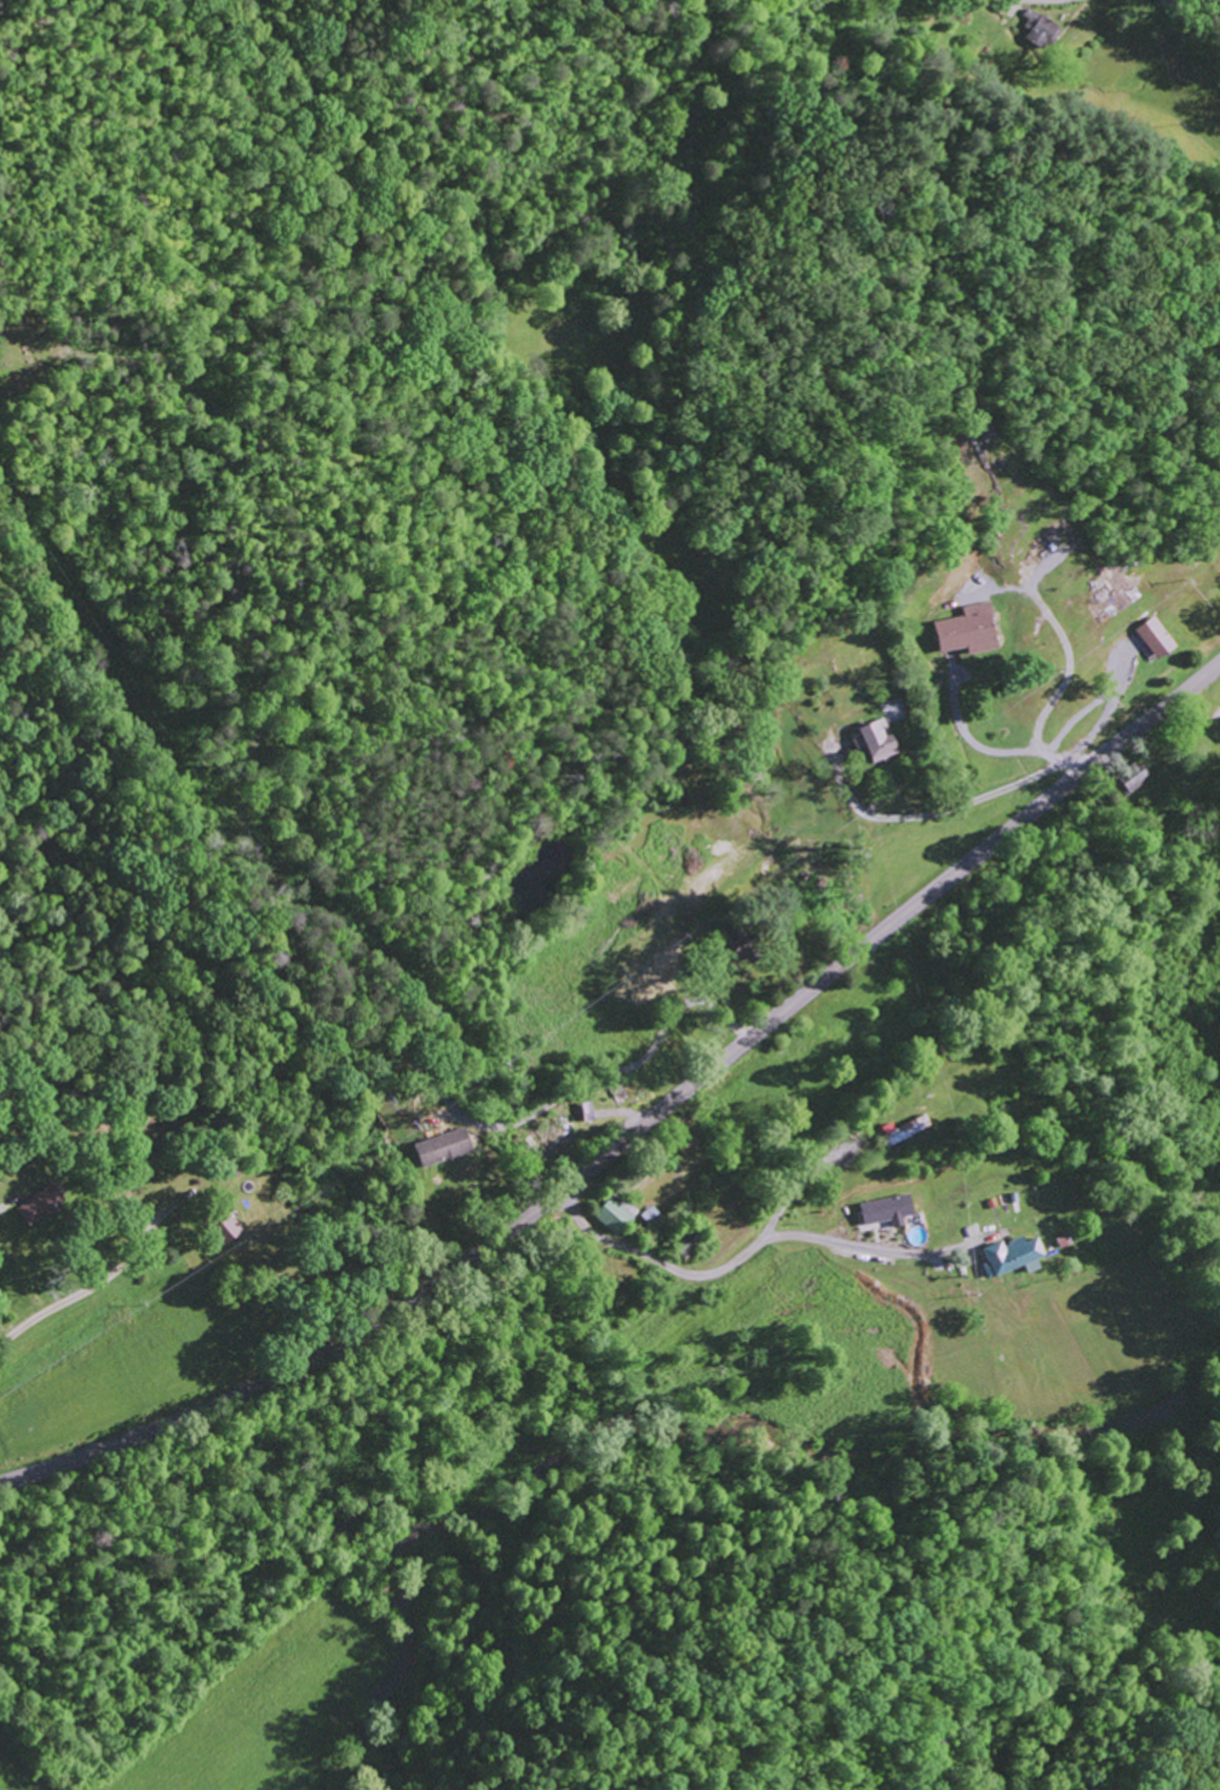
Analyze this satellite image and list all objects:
road: (1060, 1)
building: (1038, 27)
road: (1189, 28)
park: (38, 367)
building: (969, 631)
building: (1156, 638)
road: (571, 641)
road: (294, 910)
road: (1107, 943)
road: (631, 972)
road: (230, 1088)
road: (641, 1126)
building: (904, 1129)
building: (443, 1146)
building: (41, 1205)
building: (887, 1210)
building: (614, 1216)
building: (1013, 1255)
road: (738, 1257)
road: (70, 1273)
road: (194, 1720)

